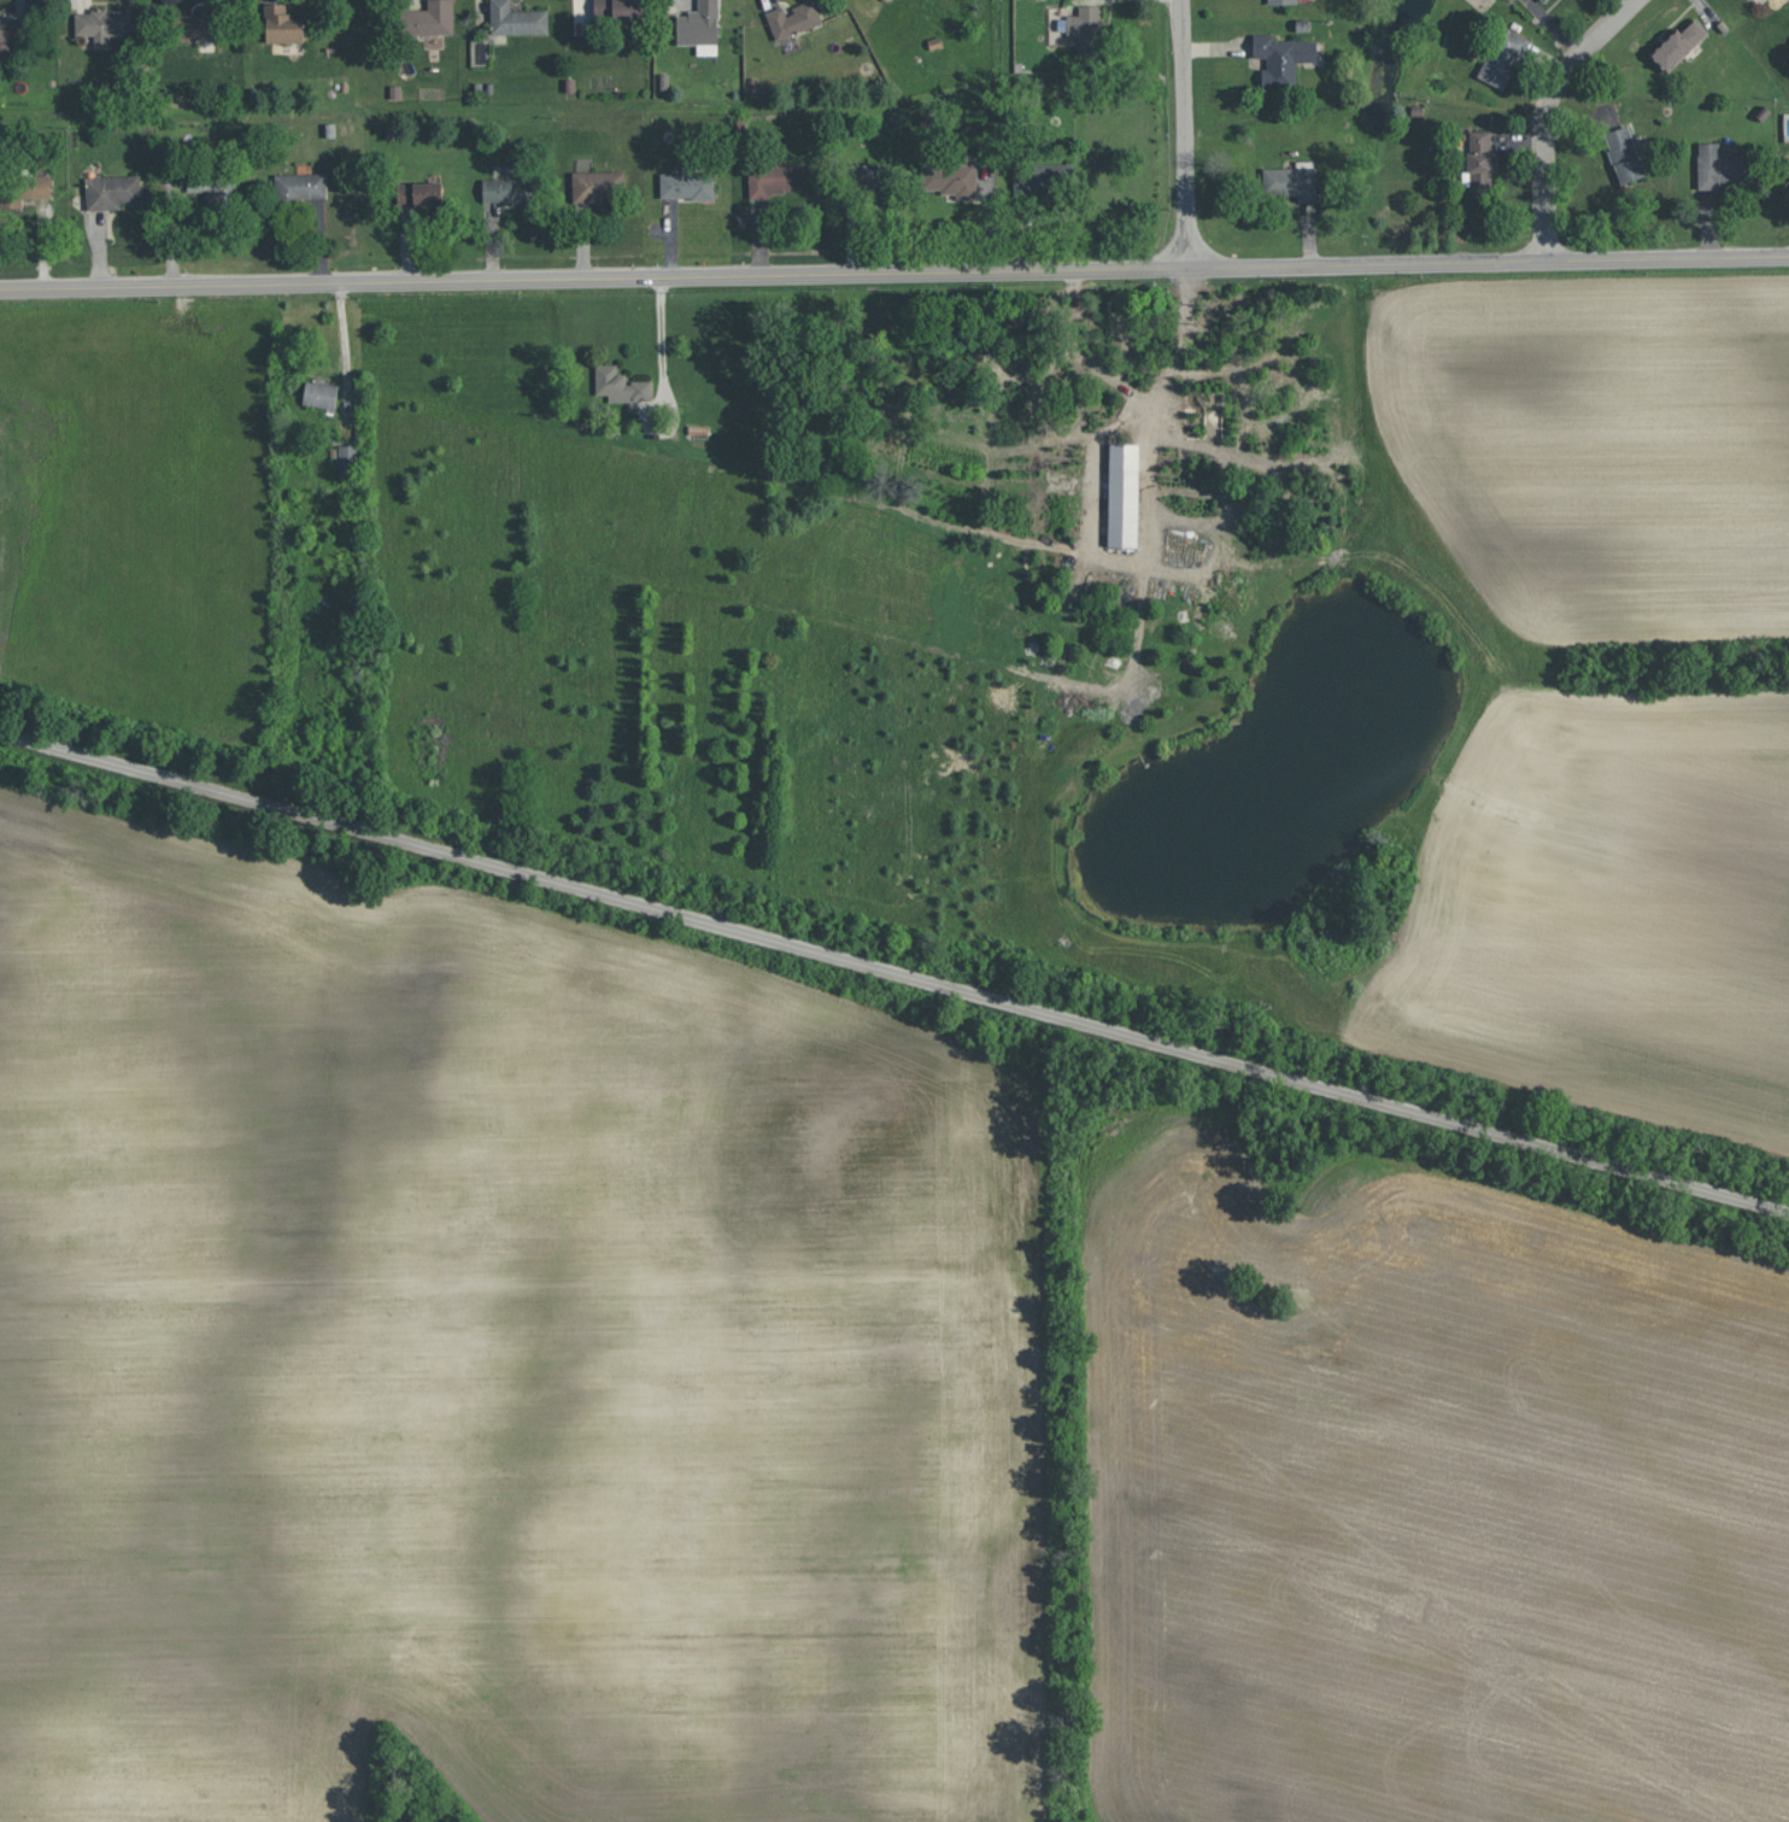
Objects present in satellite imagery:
building: (887, 0)
building: (1543, 0)
building: (1281, 1)
building: (617, 11)
building: (428, 18)
building: (792, 18)
building: (516, 19)
building: (102, 24)
building: (283, 24)
building: (195, 27)
building: (699, 27)
building: (13, 28)
building: (1084, 29)
building: (1678, 45)
building: (1281, 58)
building: (1502, 58)
road: (1545, 115)
road: (1186, 134)
building: (1624, 154)
building: (1480, 158)
building: (1788, 158)
building: (1720, 166)
building: (869, 175)
building: (775, 177)
building: (1043, 177)
building: (951, 178)
building: (1291, 181)
building: (687, 184)
building: (300, 186)
building: (598, 186)
building: (508, 189)
building: (23, 191)
building: (111, 191)
building: (217, 191)
building: (418, 193)
road: (894, 275)
road: (346, 345)
road: (661, 347)
building: (620, 383)
road: (1131, 385)
building: (321, 394)
building: (348, 461)
building: (1060, 481)
building: (1122, 494)
park: (134, 502)
road: (893, 972)

